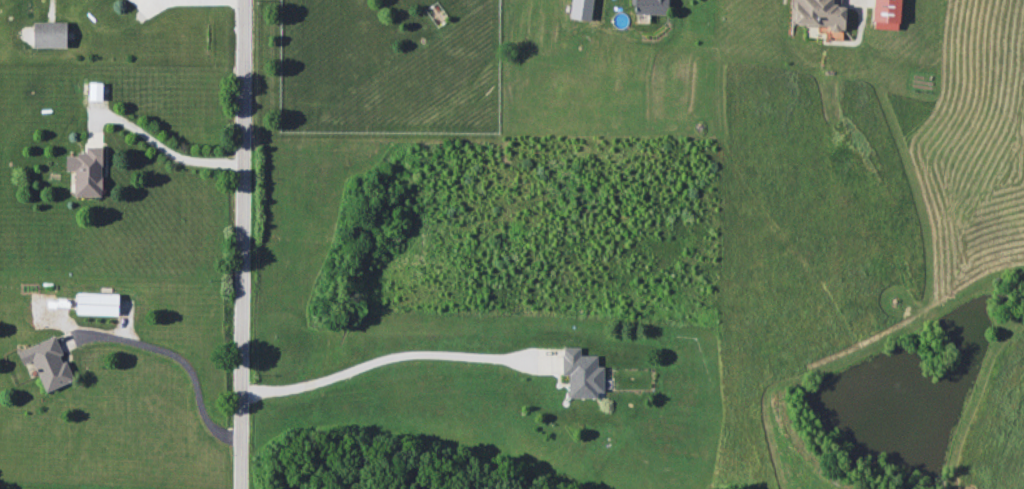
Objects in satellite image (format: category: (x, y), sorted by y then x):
building: (650, 7)
building: (580, 9)
building: (819, 13)
building: (886, 14)
building: (49, 34)
building: (94, 90)
road: (172, 147)
building: (86, 171)
road: (242, 244)
building: (96, 303)
road: (392, 357)
road: (174, 362)
building: (47, 363)
building: (581, 373)

